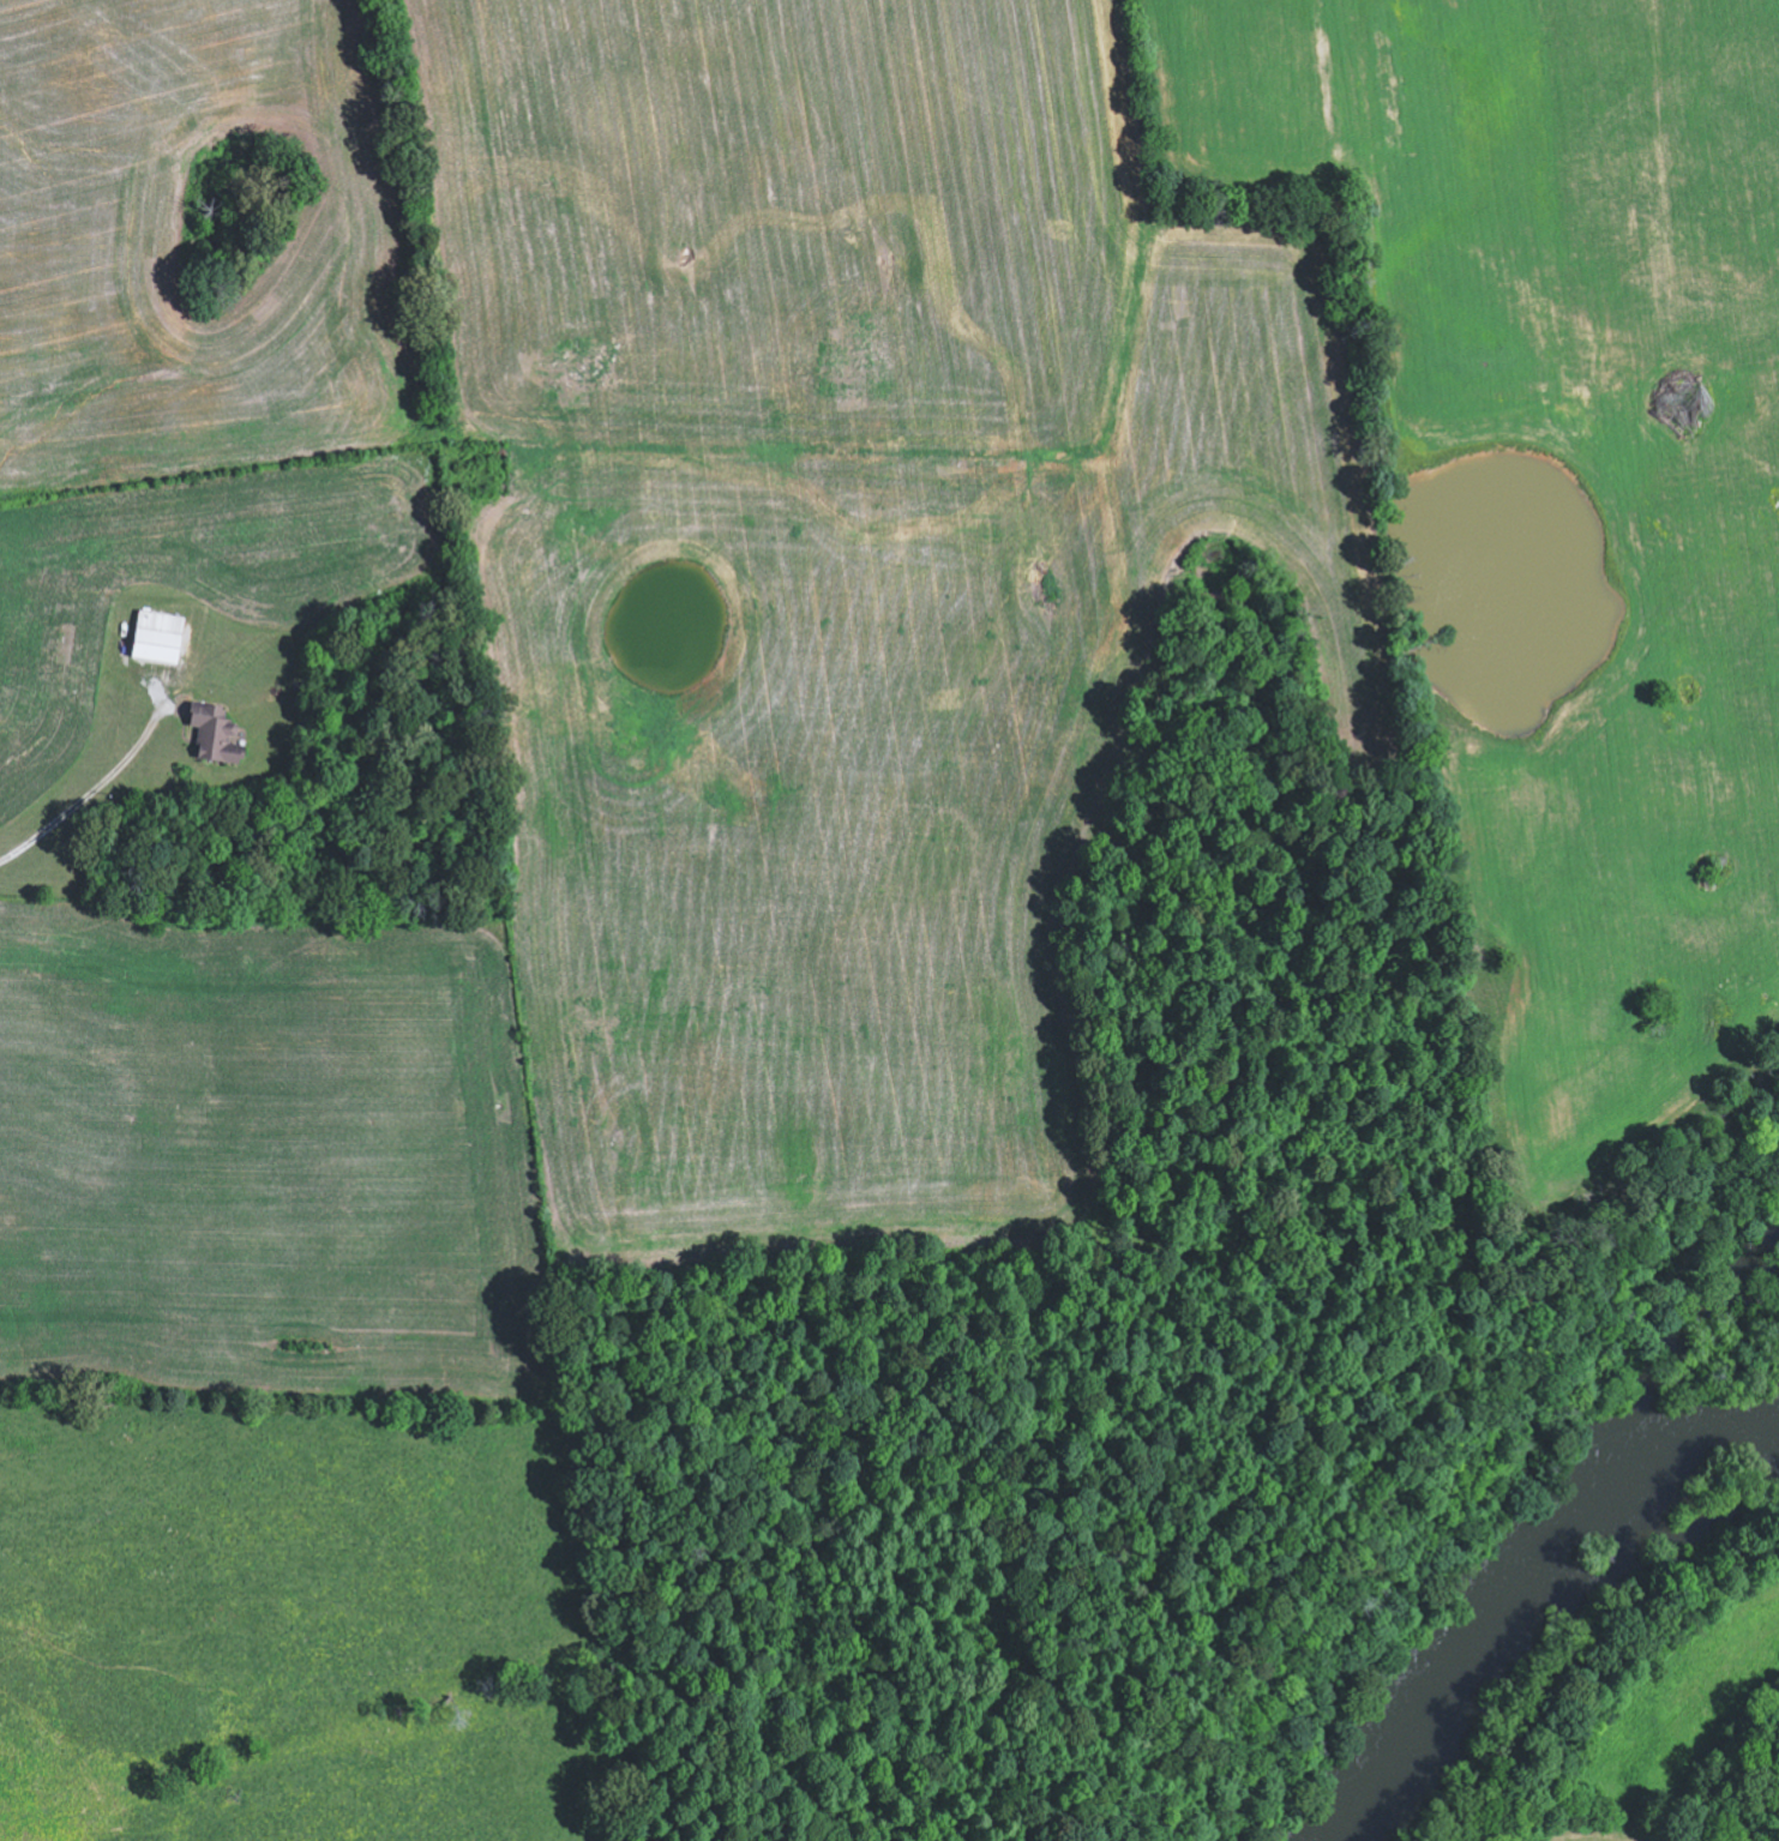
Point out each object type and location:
building: (162, 636)
road: (89, 794)
river: (1517, 1582)

